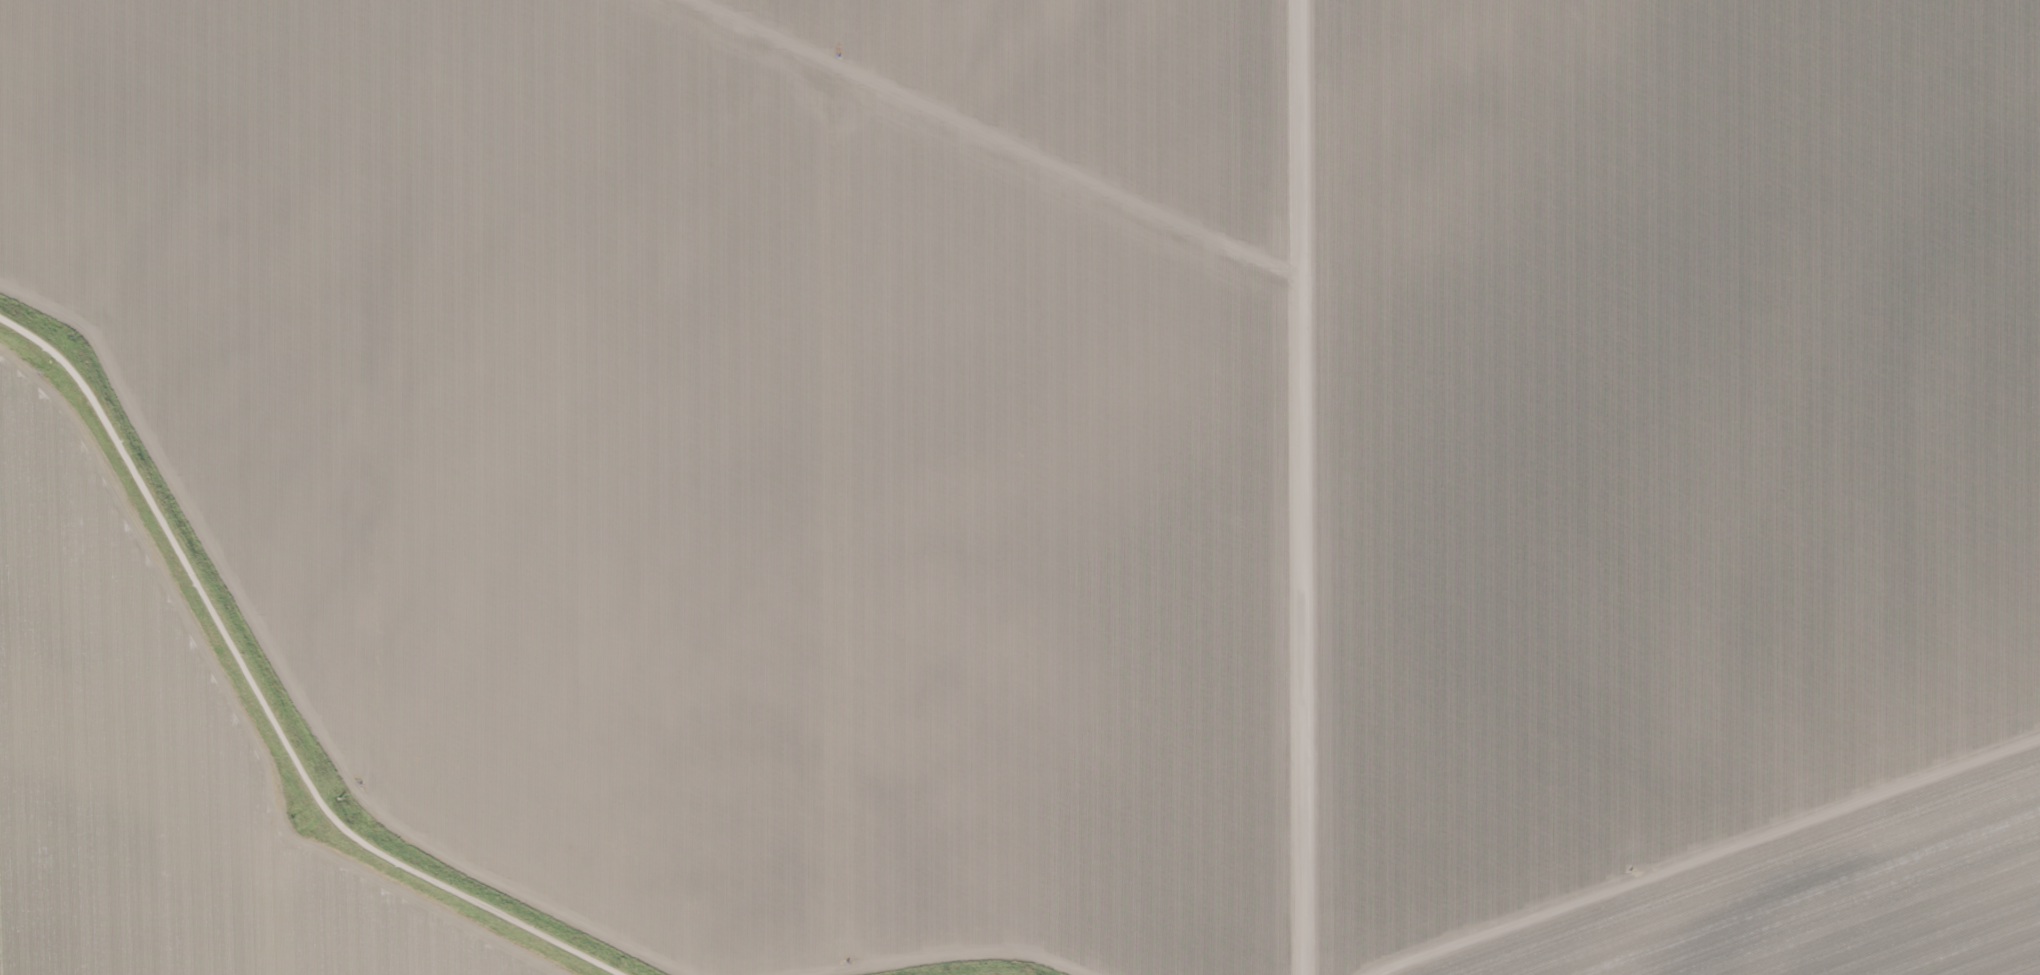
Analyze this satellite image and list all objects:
road: (1299, 487)
road: (256, 703)
road: (1711, 856)

